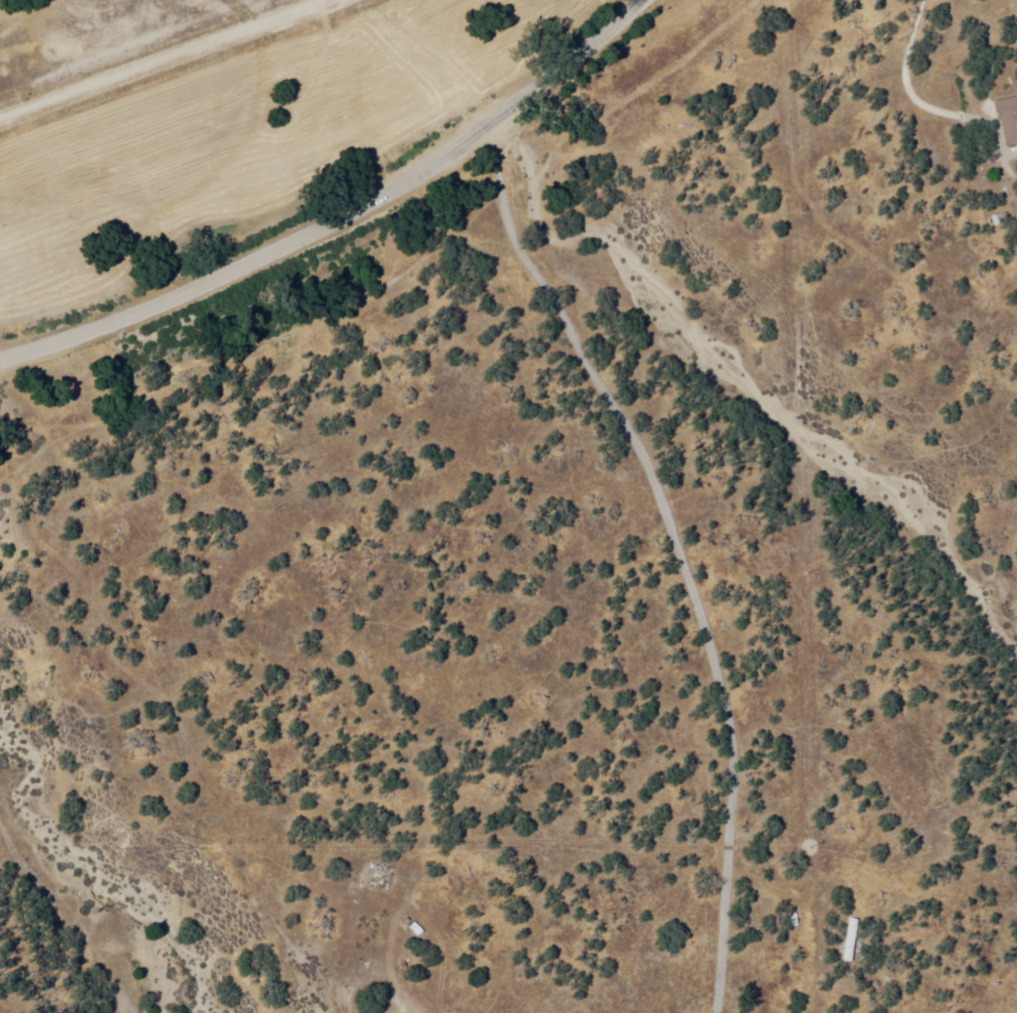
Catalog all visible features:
road: (165, 59)
building: (1007, 116)
building: (1000, 217)
road: (342, 218)
road: (650, 475)
road: (781, 890)
building: (412, 929)
road: (724, 930)
building: (851, 938)

